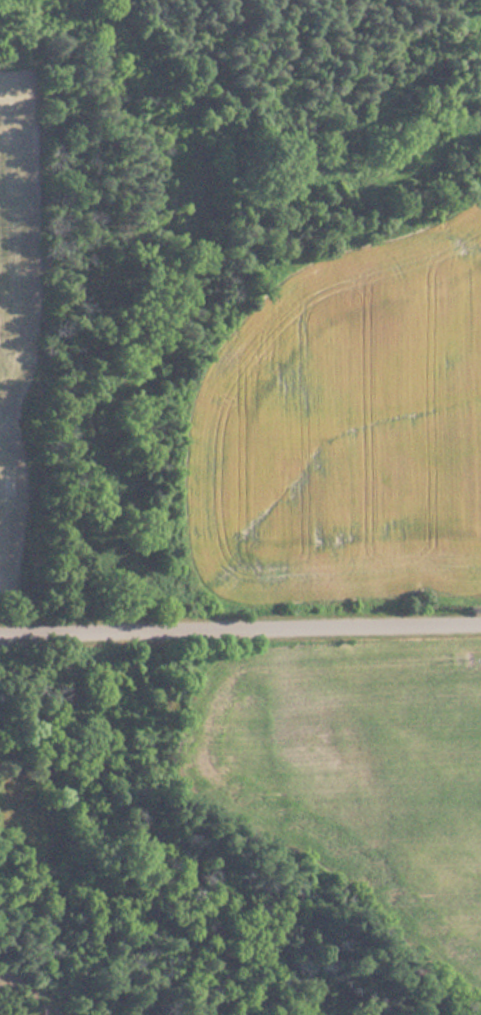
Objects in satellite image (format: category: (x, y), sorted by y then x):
road: (240, 633)

